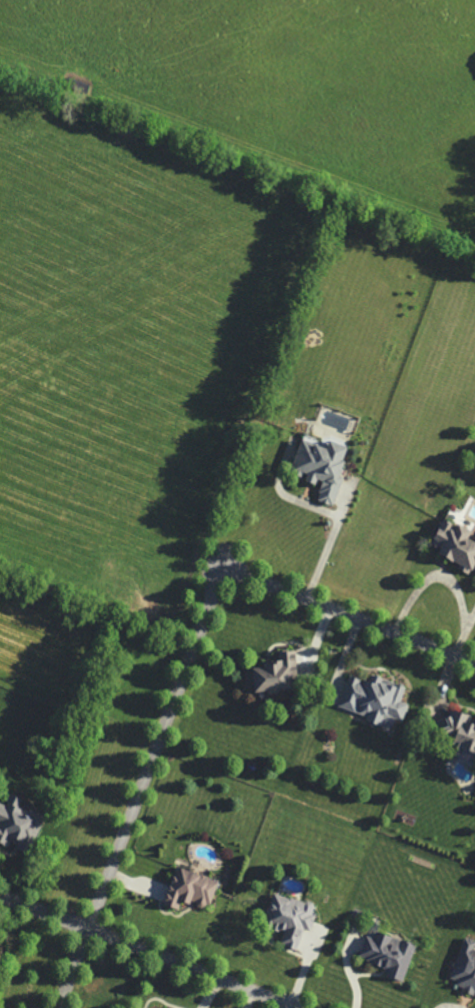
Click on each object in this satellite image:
building: (317, 467)
building: (453, 547)
road: (325, 548)
road: (447, 576)
road: (348, 615)
building: (282, 674)
building: (378, 700)
road: (140, 787)
building: (21, 825)
building: (194, 890)
building: (294, 919)
road: (149, 951)
building: (392, 955)
building: (467, 967)

